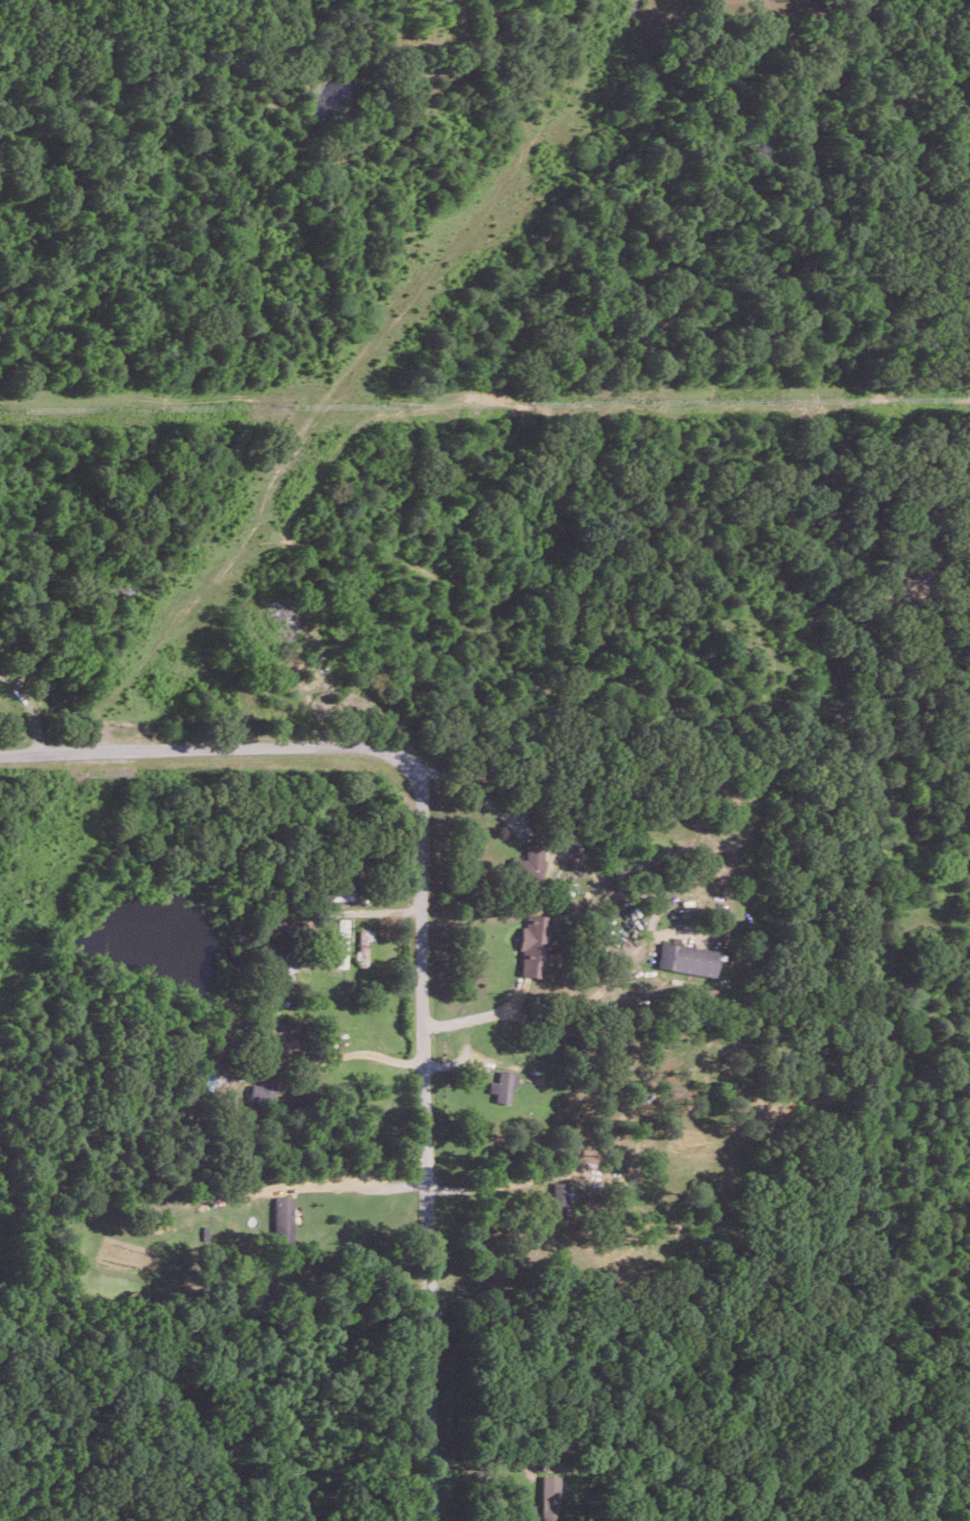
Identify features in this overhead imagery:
road: (481, 800)
building: (527, 862)
road: (420, 933)
building: (340, 942)
building: (363, 943)
building: (533, 945)
building: (685, 958)
building: (284, 973)
road: (479, 1015)
road: (354, 1056)
building: (262, 1084)
building: (502, 1085)
road: (358, 1185)
road: (482, 1187)
building: (283, 1219)
building: (549, 1496)

